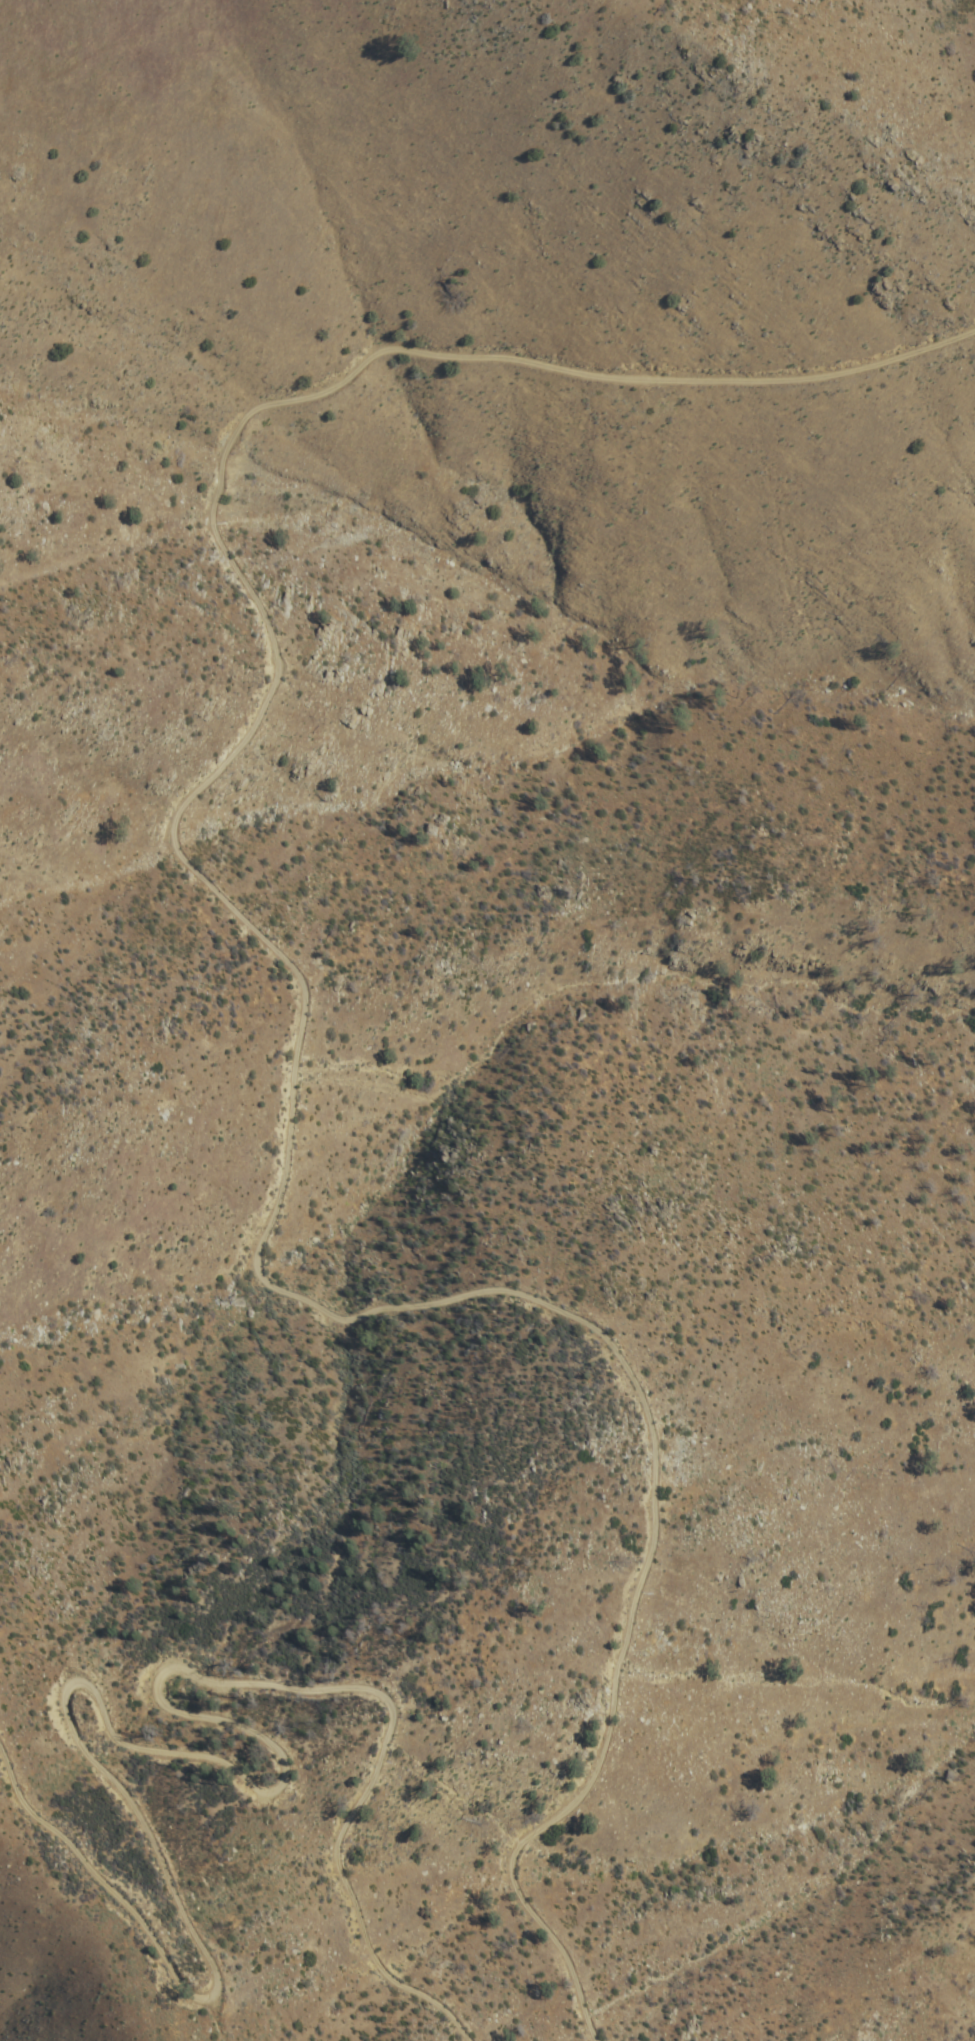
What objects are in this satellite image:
road: (302, 968)
road: (223, 1757)

